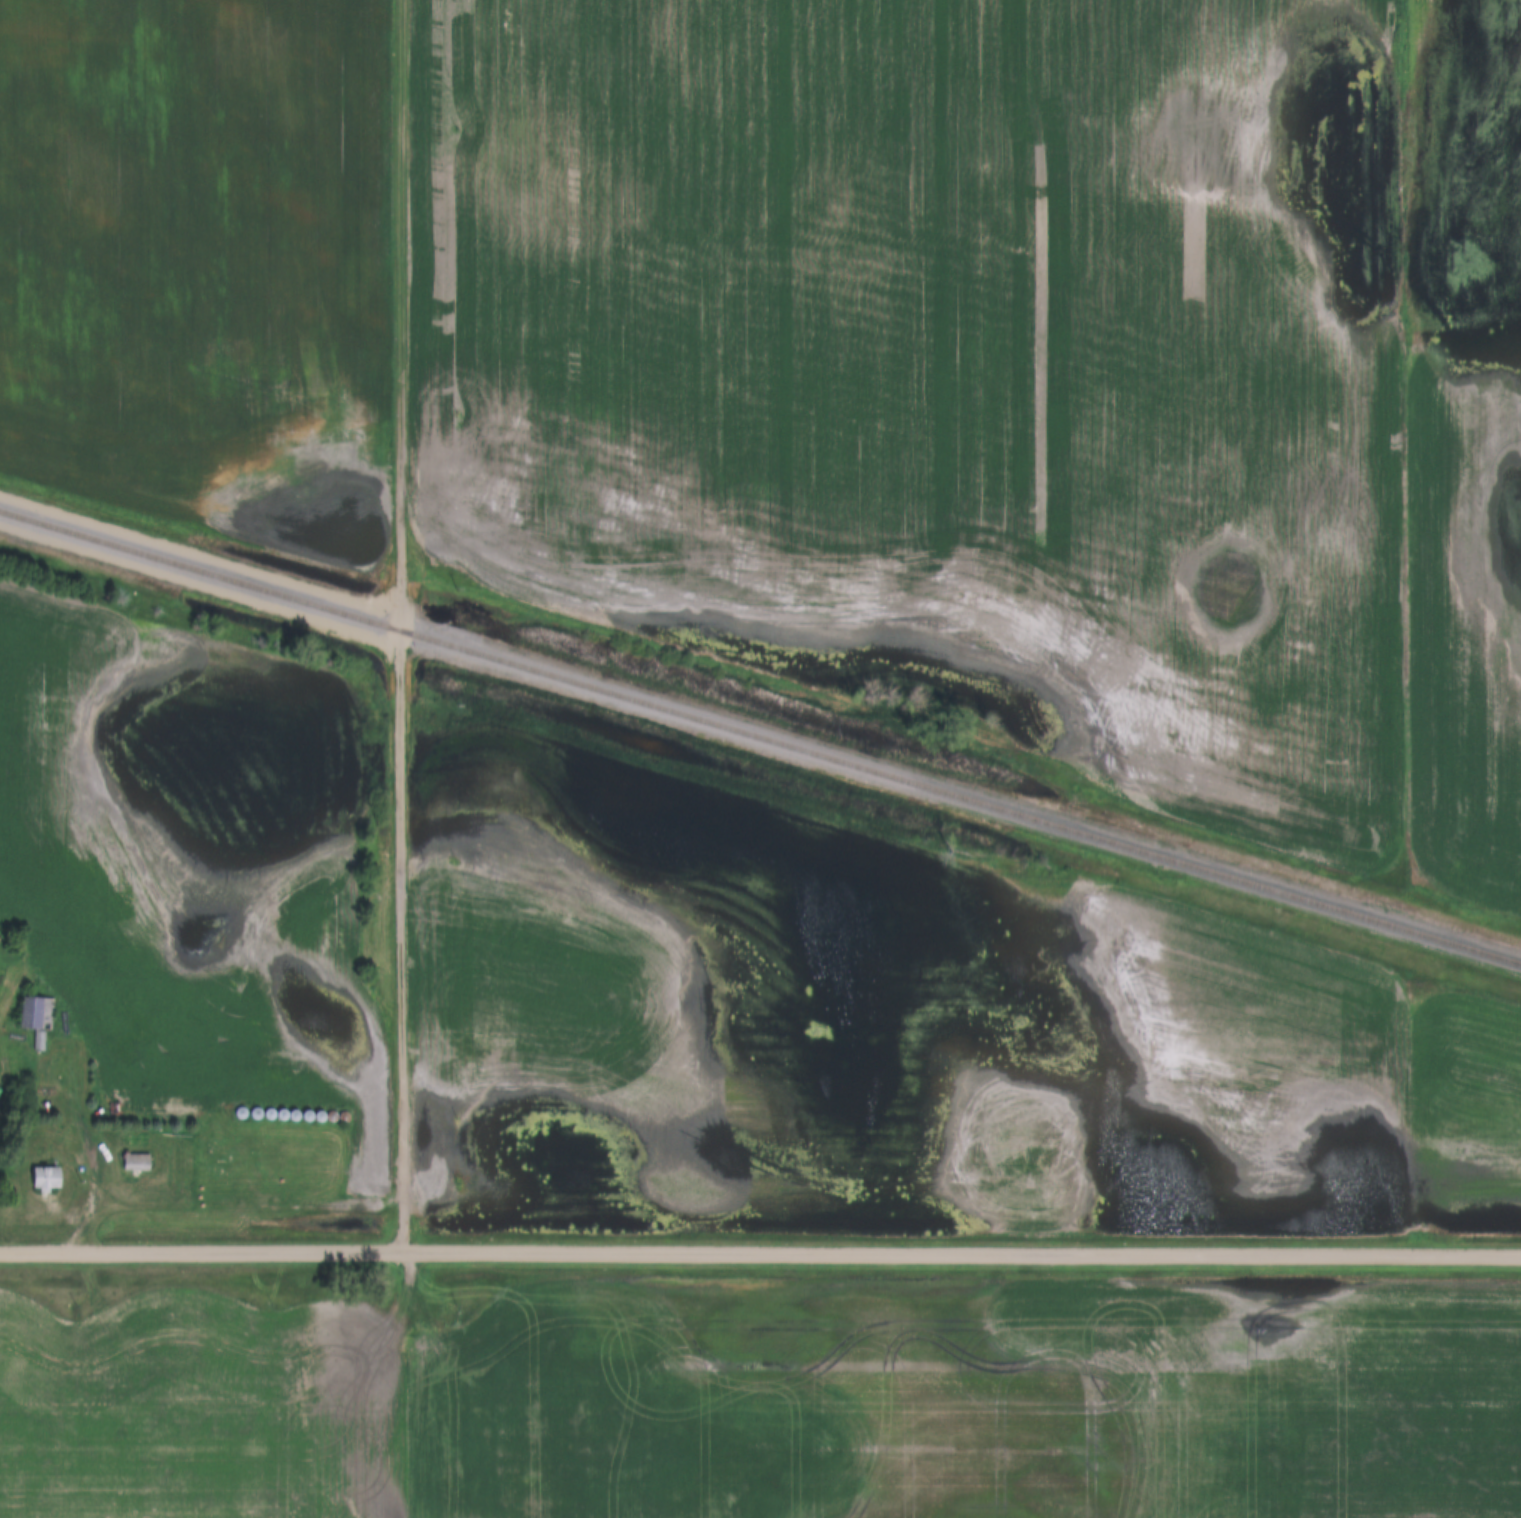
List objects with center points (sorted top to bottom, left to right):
crop: (1471, 442)
road: (398, 627)
railway: (760, 740)
building: (35, 1020)
crop: (1464, 1103)
road: (85, 1146)
building: (134, 1163)
building: (48, 1180)
road: (760, 1256)
crop: (977, 1400)

